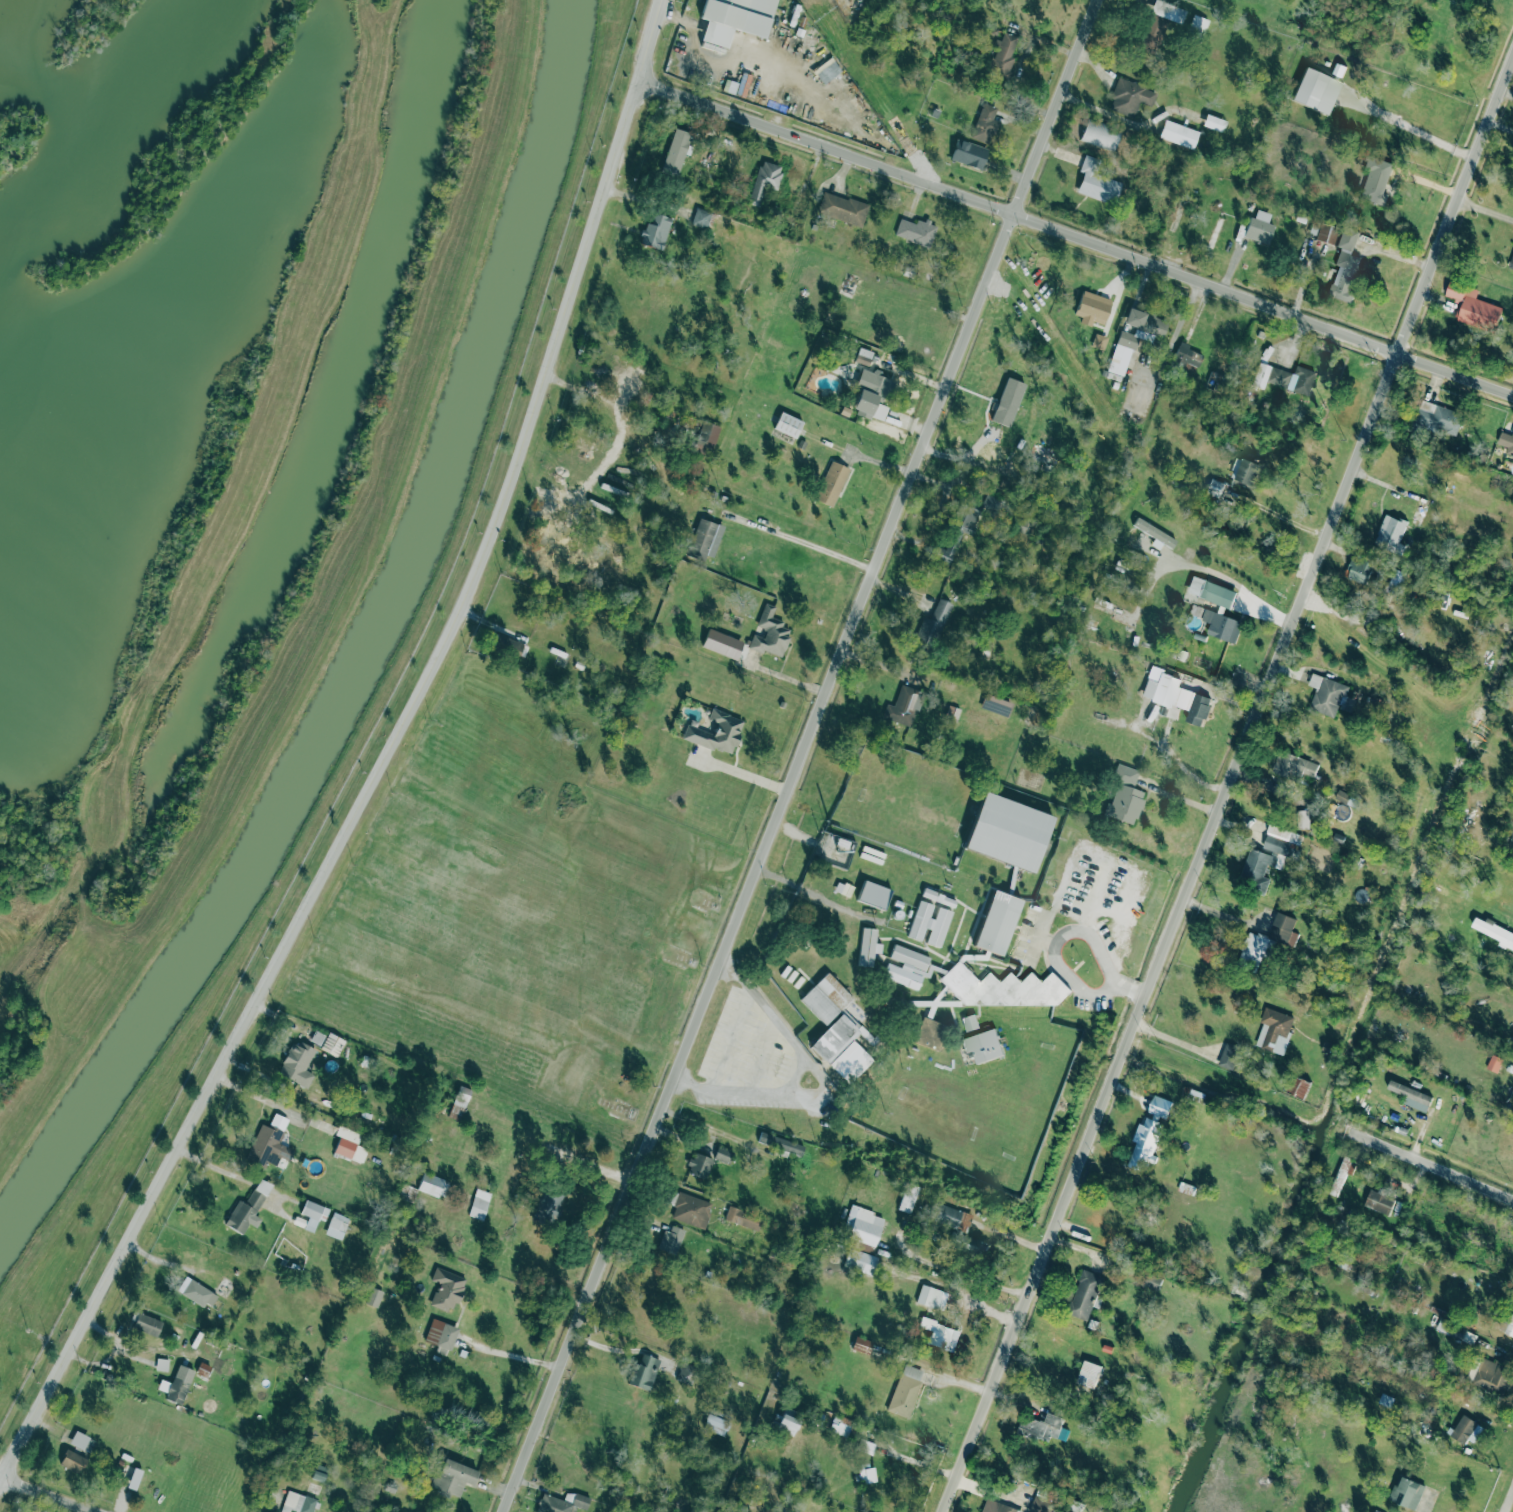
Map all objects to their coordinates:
building: (734, 18)
building: (1157, 24)
building: (1198, 24)
building: (1003, 55)
building: (827, 70)
building: (1316, 91)
building: (1131, 97)
building: (1214, 122)
building: (984, 123)
building: (1178, 133)
building: (1100, 134)
building: (676, 150)
building: (969, 154)
building: (1095, 178)
building: (1376, 179)
building: (765, 180)
road: (1486, 207)
building: (843, 208)
building: (701, 217)
building: (1259, 227)
building: (656, 231)
building: (916, 231)
building: (1323, 232)
building: (1215, 233)
road: (1075, 237)
building: (1511, 262)
building: (1345, 266)
building: (1473, 307)
building: (1092, 308)
building: (1135, 337)
building: (1099, 341)
building: (1186, 357)
building: (1284, 377)
building: (872, 391)
building: (1008, 401)
building: (1438, 417)
building: (788, 424)
building: (707, 434)
building: (1506, 441)
building: (1245, 471)
building: (832, 483)
building: (1215, 487)
road: (1279, 515)
building: (956, 531)
building: (1390, 531)
building: (705, 538)
road: (814, 546)
building: (1359, 569)
building: (1210, 591)
road: (1261, 614)
building: (1221, 625)
building: (930, 628)
building: (770, 634)
building: (509, 644)
building: (1326, 694)
building: (1175, 695)
building: (904, 705)
building: (718, 731)
road: (798, 755)
road: (384, 765)
building: (1295, 766)
building: (1124, 774)
road: (1227, 786)
building: (1126, 803)
building: (1301, 818)
building: (1008, 832)
building: (1267, 857)
building: (873, 894)
building: (939, 897)
road: (1116, 905)
building: (997, 922)
building: (929, 924)
building: (1282, 926)
building: (1492, 930)
building: (868, 947)
road: (1081, 949)
building: (1254, 949)
building: (906, 966)
building: (1003, 988)
building: (826, 998)
building: (970, 1022)
building: (1274, 1030)
building: (930, 1032)
building: (838, 1036)
building: (332, 1044)
building: (983, 1045)
road: (795, 1055)
building: (1228, 1056)
building: (297, 1062)
building: (1493, 1063)
road: (1164, 1073)
building: (1298, 1087)
building: (1411, 1096)
building: (1148, 1131)
building: (268, 1141)
building: (346, 1142)
building: (779, 1142)
building: (722, 1153)
road: (1431, 1165)
building: (700, 1166)
building: (1341, 1174)
building: (431, 1184)
building: (1379, 1200)
building: (479, 1204)
building: (549, 1205)
building: (248, 1208)
building: (709, 1212)
building: (311, 1215)
building: (952, 1217)
building: (337, 1225)
building: (863, 1225)
building: (672, 1240)
building: (974, 1246)
building: (861, 1261)
building: (446, 1289)
building: (197, 1292)
building: (1083, 1294)
building: (928, 1296)
building: (374, 1297)
building: (148, 1324)
building: (1510, 1326)
building: (1451, 1328)
building: (940, 1334)
building: (441, 1336)
building: (862, 1345)
road: (515, 1355)
building: (162, 1364)
building: (644, 1372)
building: (1089, 1374)
building: (1493, 1375)
building: (177, 1390)
building: (905, 1390)
building: (715, 1424)
building: (787, 1424)
building: (841, 1425)
building: (1041, 1426)
building: (1467, 1430)
building: (79, 1440)
building: (73, 1460)
building: (318, 1474)
building: (867, 1475)
building: (452, 1477)
building: (134, 1478)
building: (1406, 1491)
road: (52, 1494)
road: (1507, 1499)
building: (298, 1503)
building: (561, 1503)
building: (1041, 1504)
building: (995, 1507)

